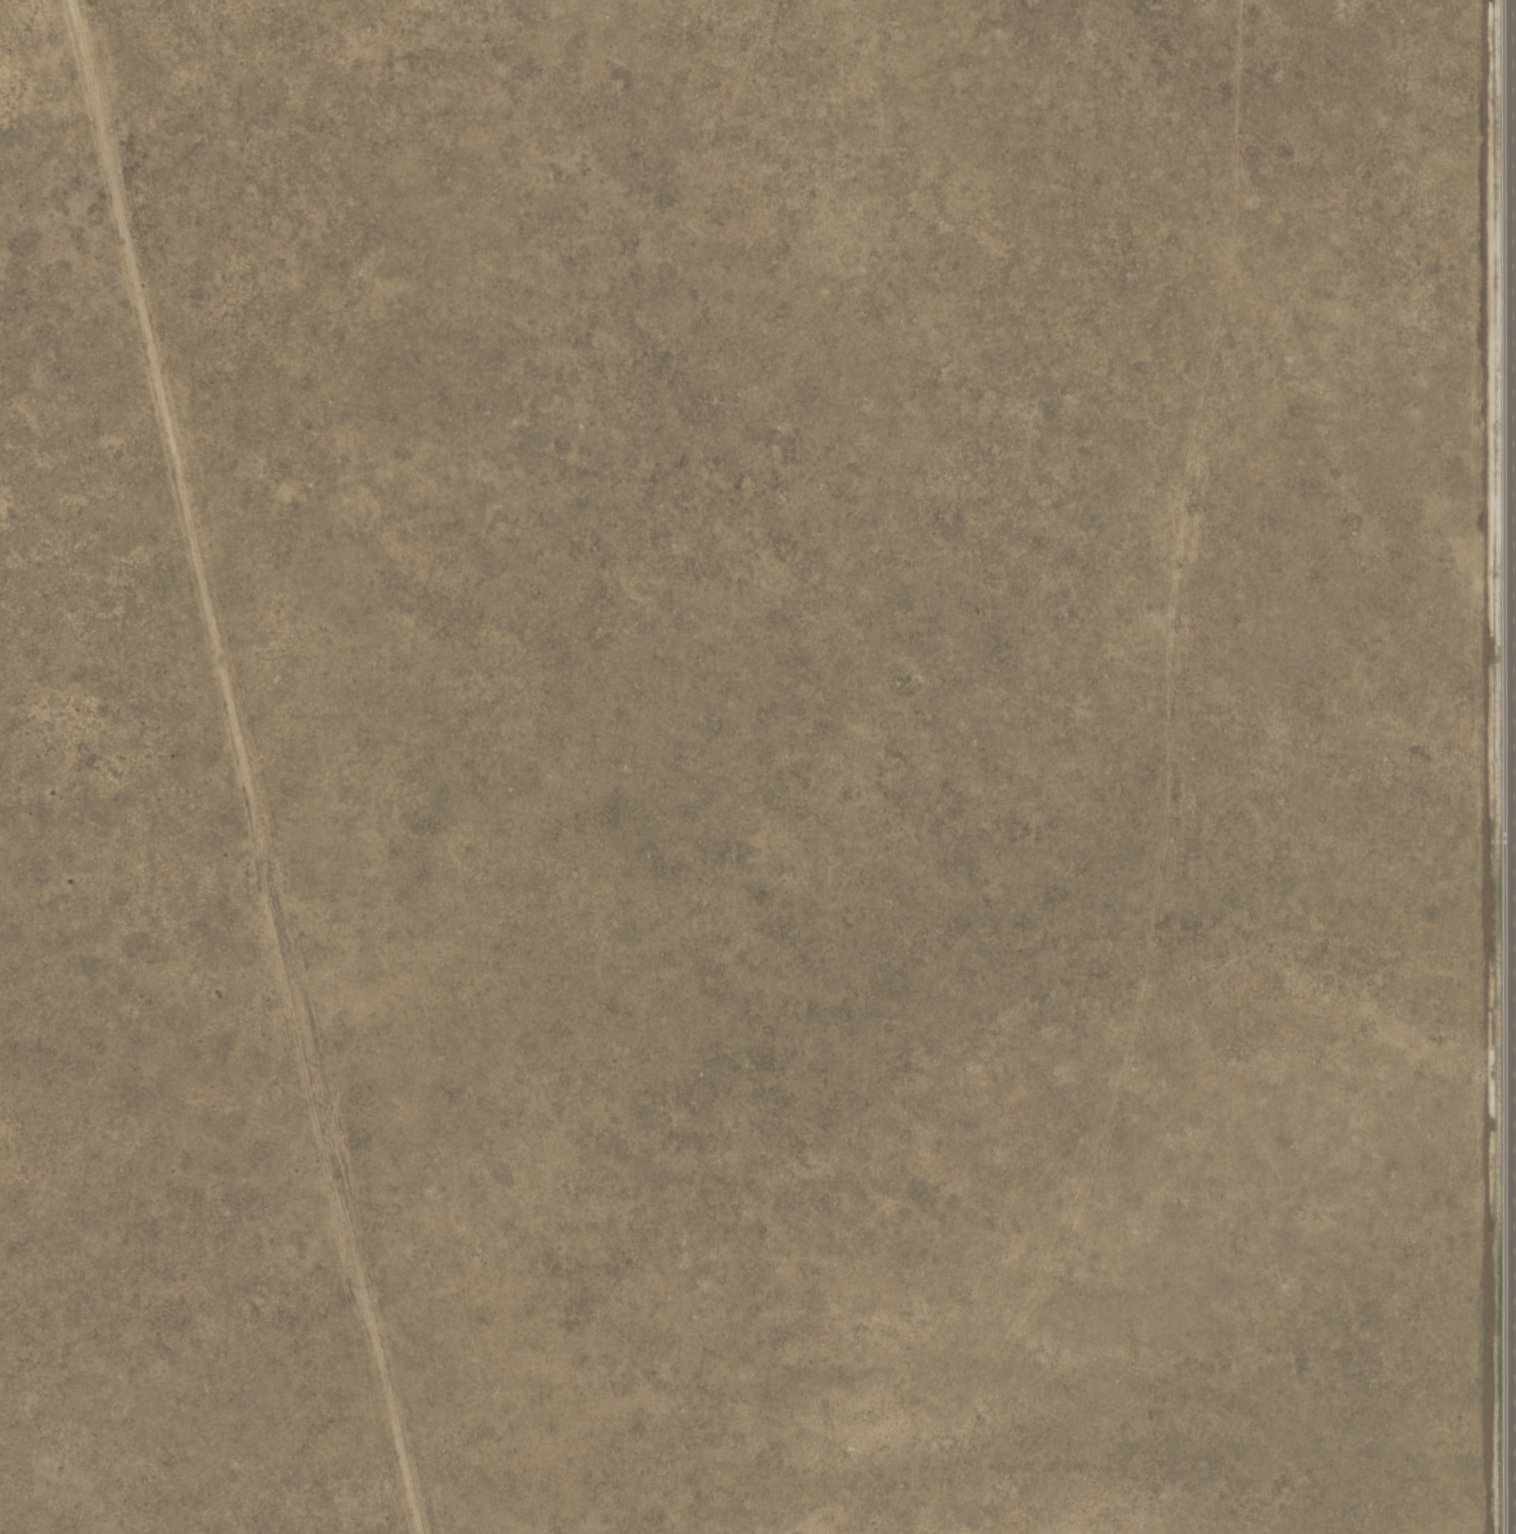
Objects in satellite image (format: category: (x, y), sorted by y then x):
road: (1505, 767)

